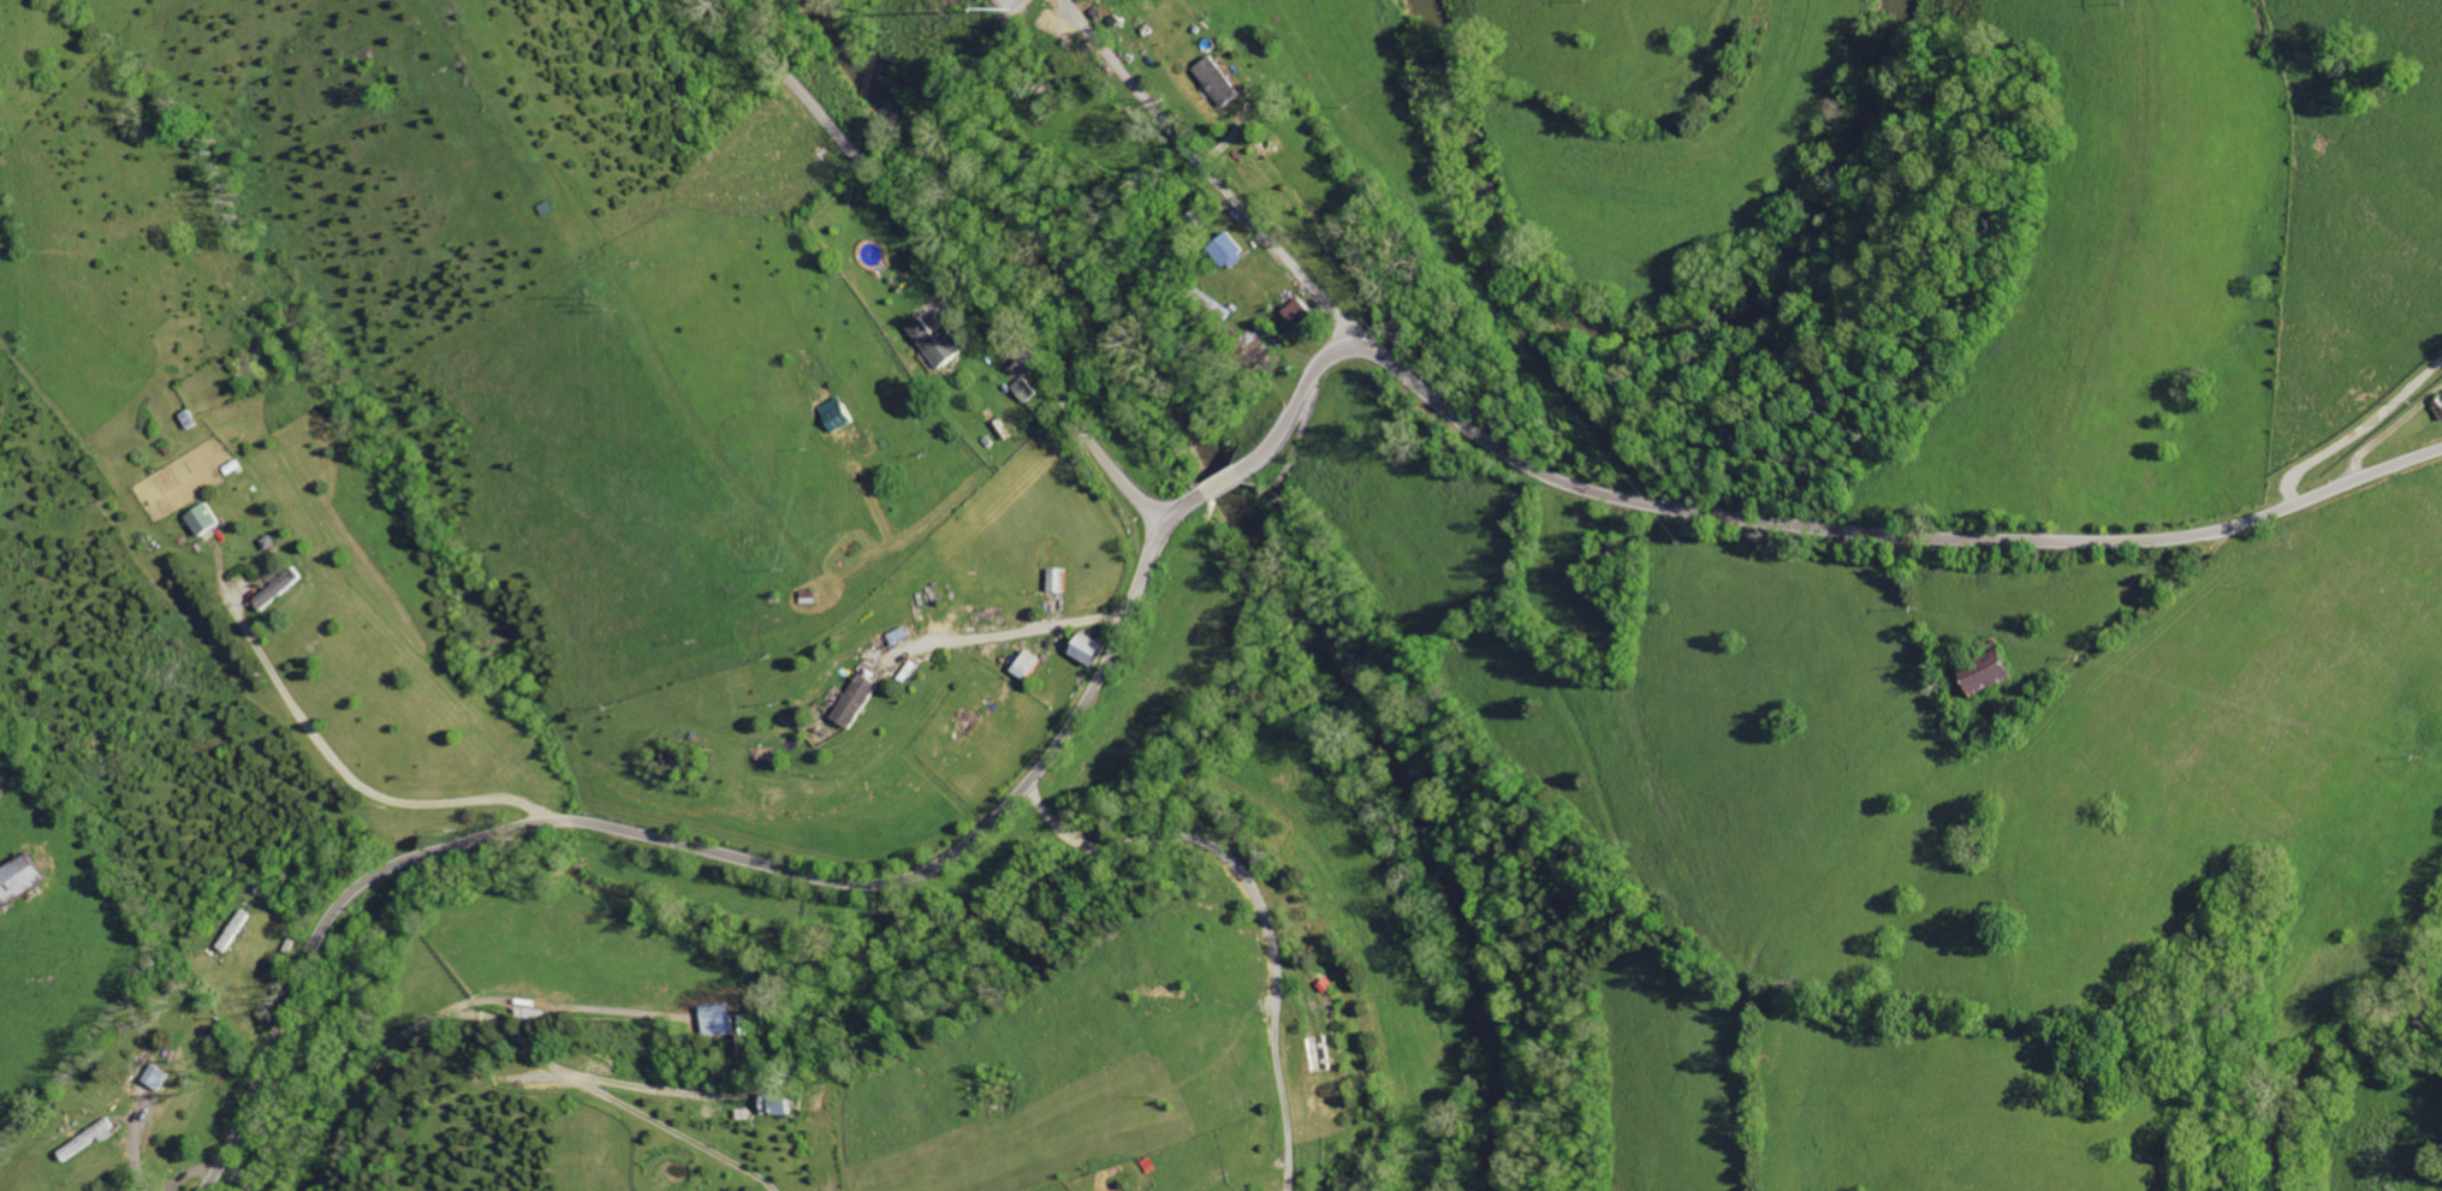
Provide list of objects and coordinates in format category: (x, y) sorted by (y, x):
power substation: (1011, 4)
building: (1218, 81)
road: (1214, 173)
building: (1228, 250)
road: (957, 258)
power tower: (600, 302)
building: (1300, 310)
building: (937, 341)
building: (1255, 347)
building: (1026, 389)
building: (833, 415)
road: (2358, 435)
road: (1193, 511)
building: (197, 519)
building: (1058, 580)
road: (1016, 633)
building: (1086, 649)
building: (1027, 665)
building: (1980, 675)
building: (854, 699)
road: (356, 778)
building: (17, 880)
road: (1262, 903)
building: (164, 1077)
road: (239, 1174)

